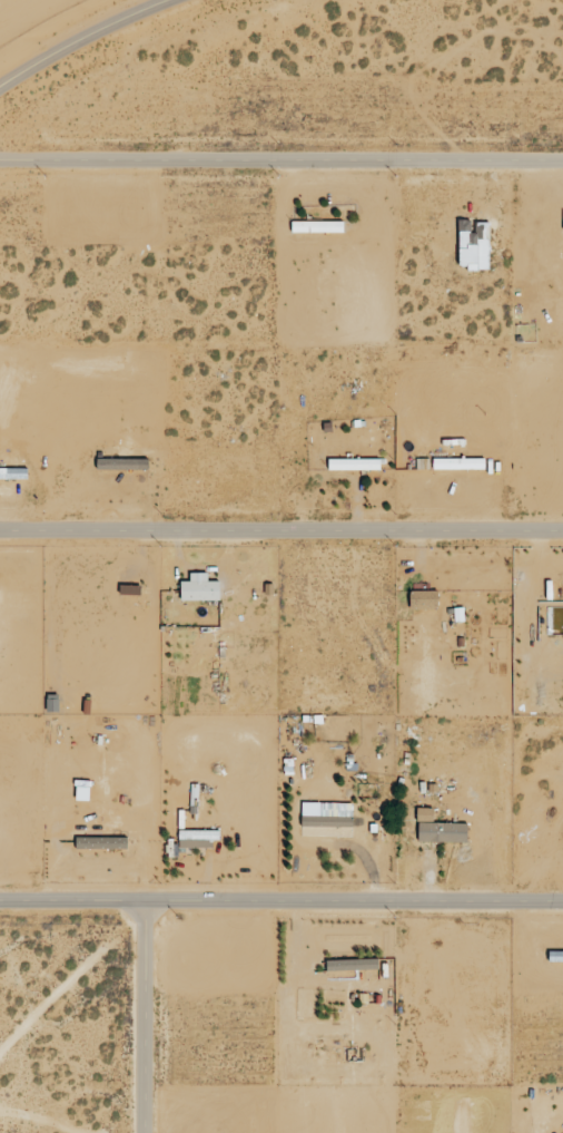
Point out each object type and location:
road: (77, 36)
road: (281, 160)
road: (281, 529)
road: (280, 901)
road: (141, 1017)

